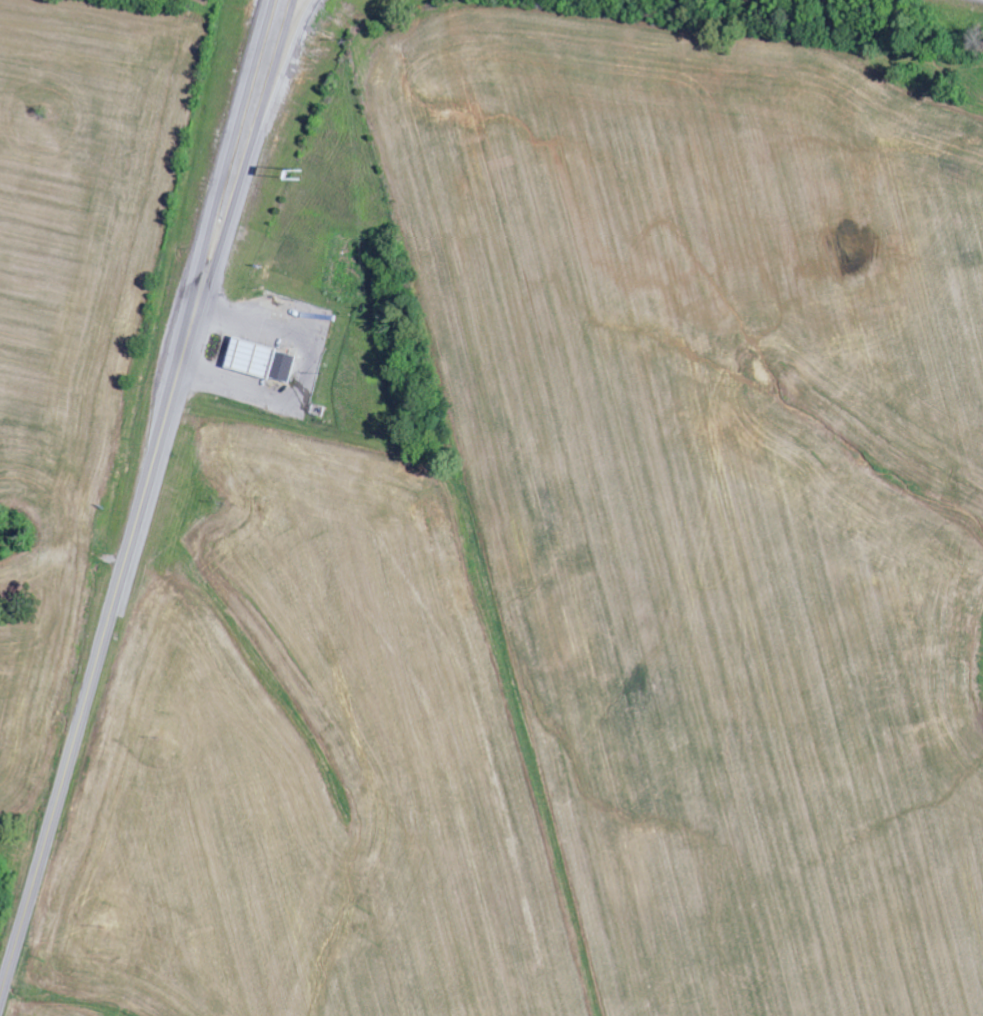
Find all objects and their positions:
road: (292, 32)
road: (234, 155)
road: (250, 157)
building: (261, 362)
road: (304, 367)
road: (98, 658)

